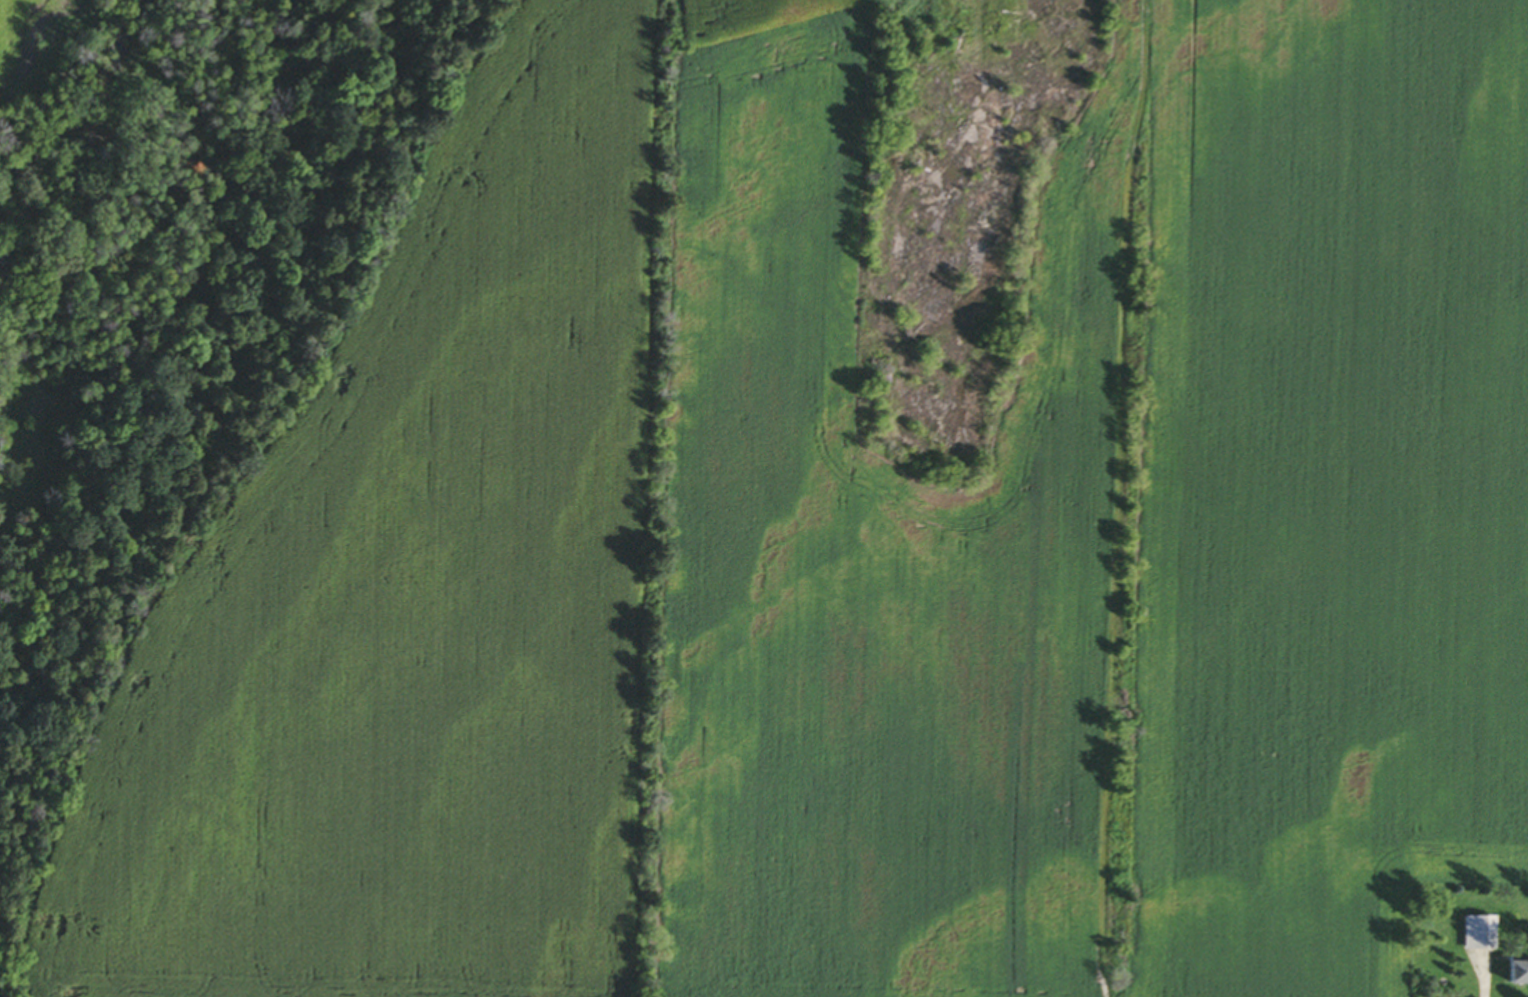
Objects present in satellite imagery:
building: (1467, 942)
building: (1519, 971)

